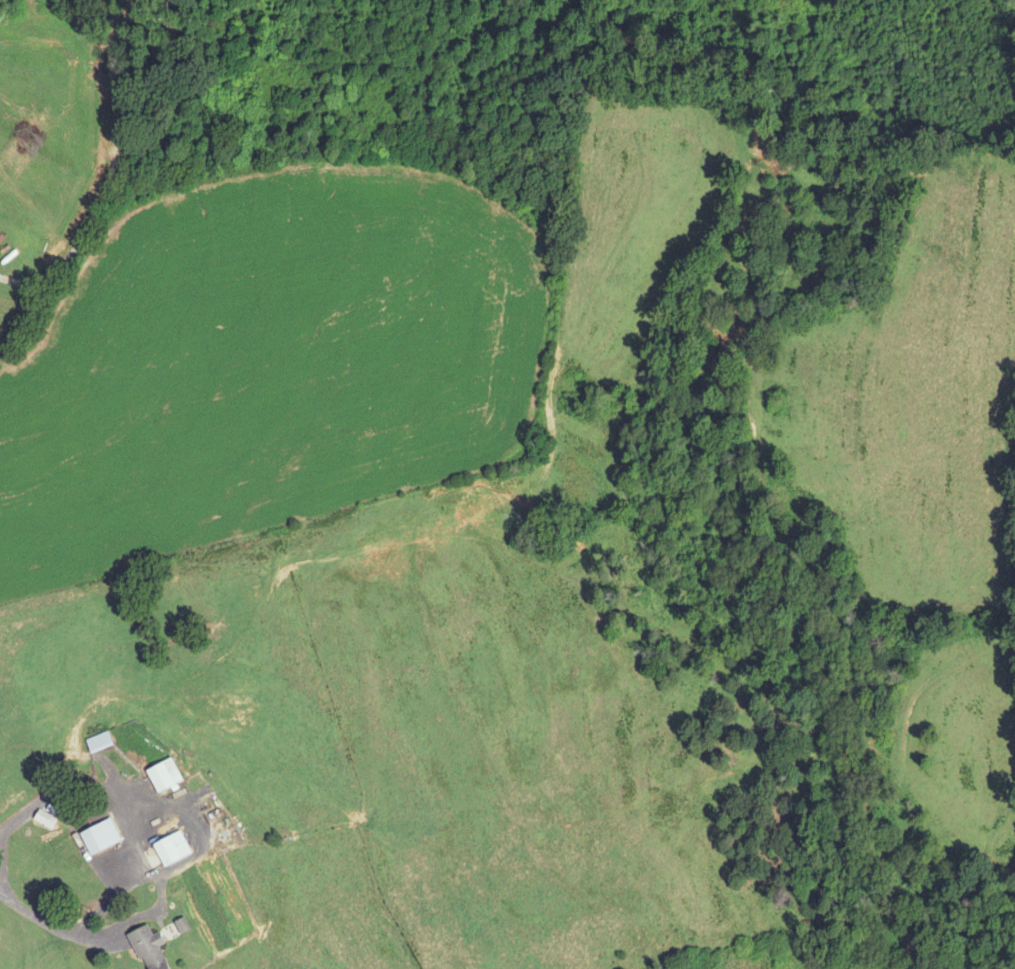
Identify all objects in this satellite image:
road: (96, 201)
building: (97, 741)
building: (162, 775)
building: (43, 818)
building: (169, 848)
road: (133, 853)
building: (147, 948)

